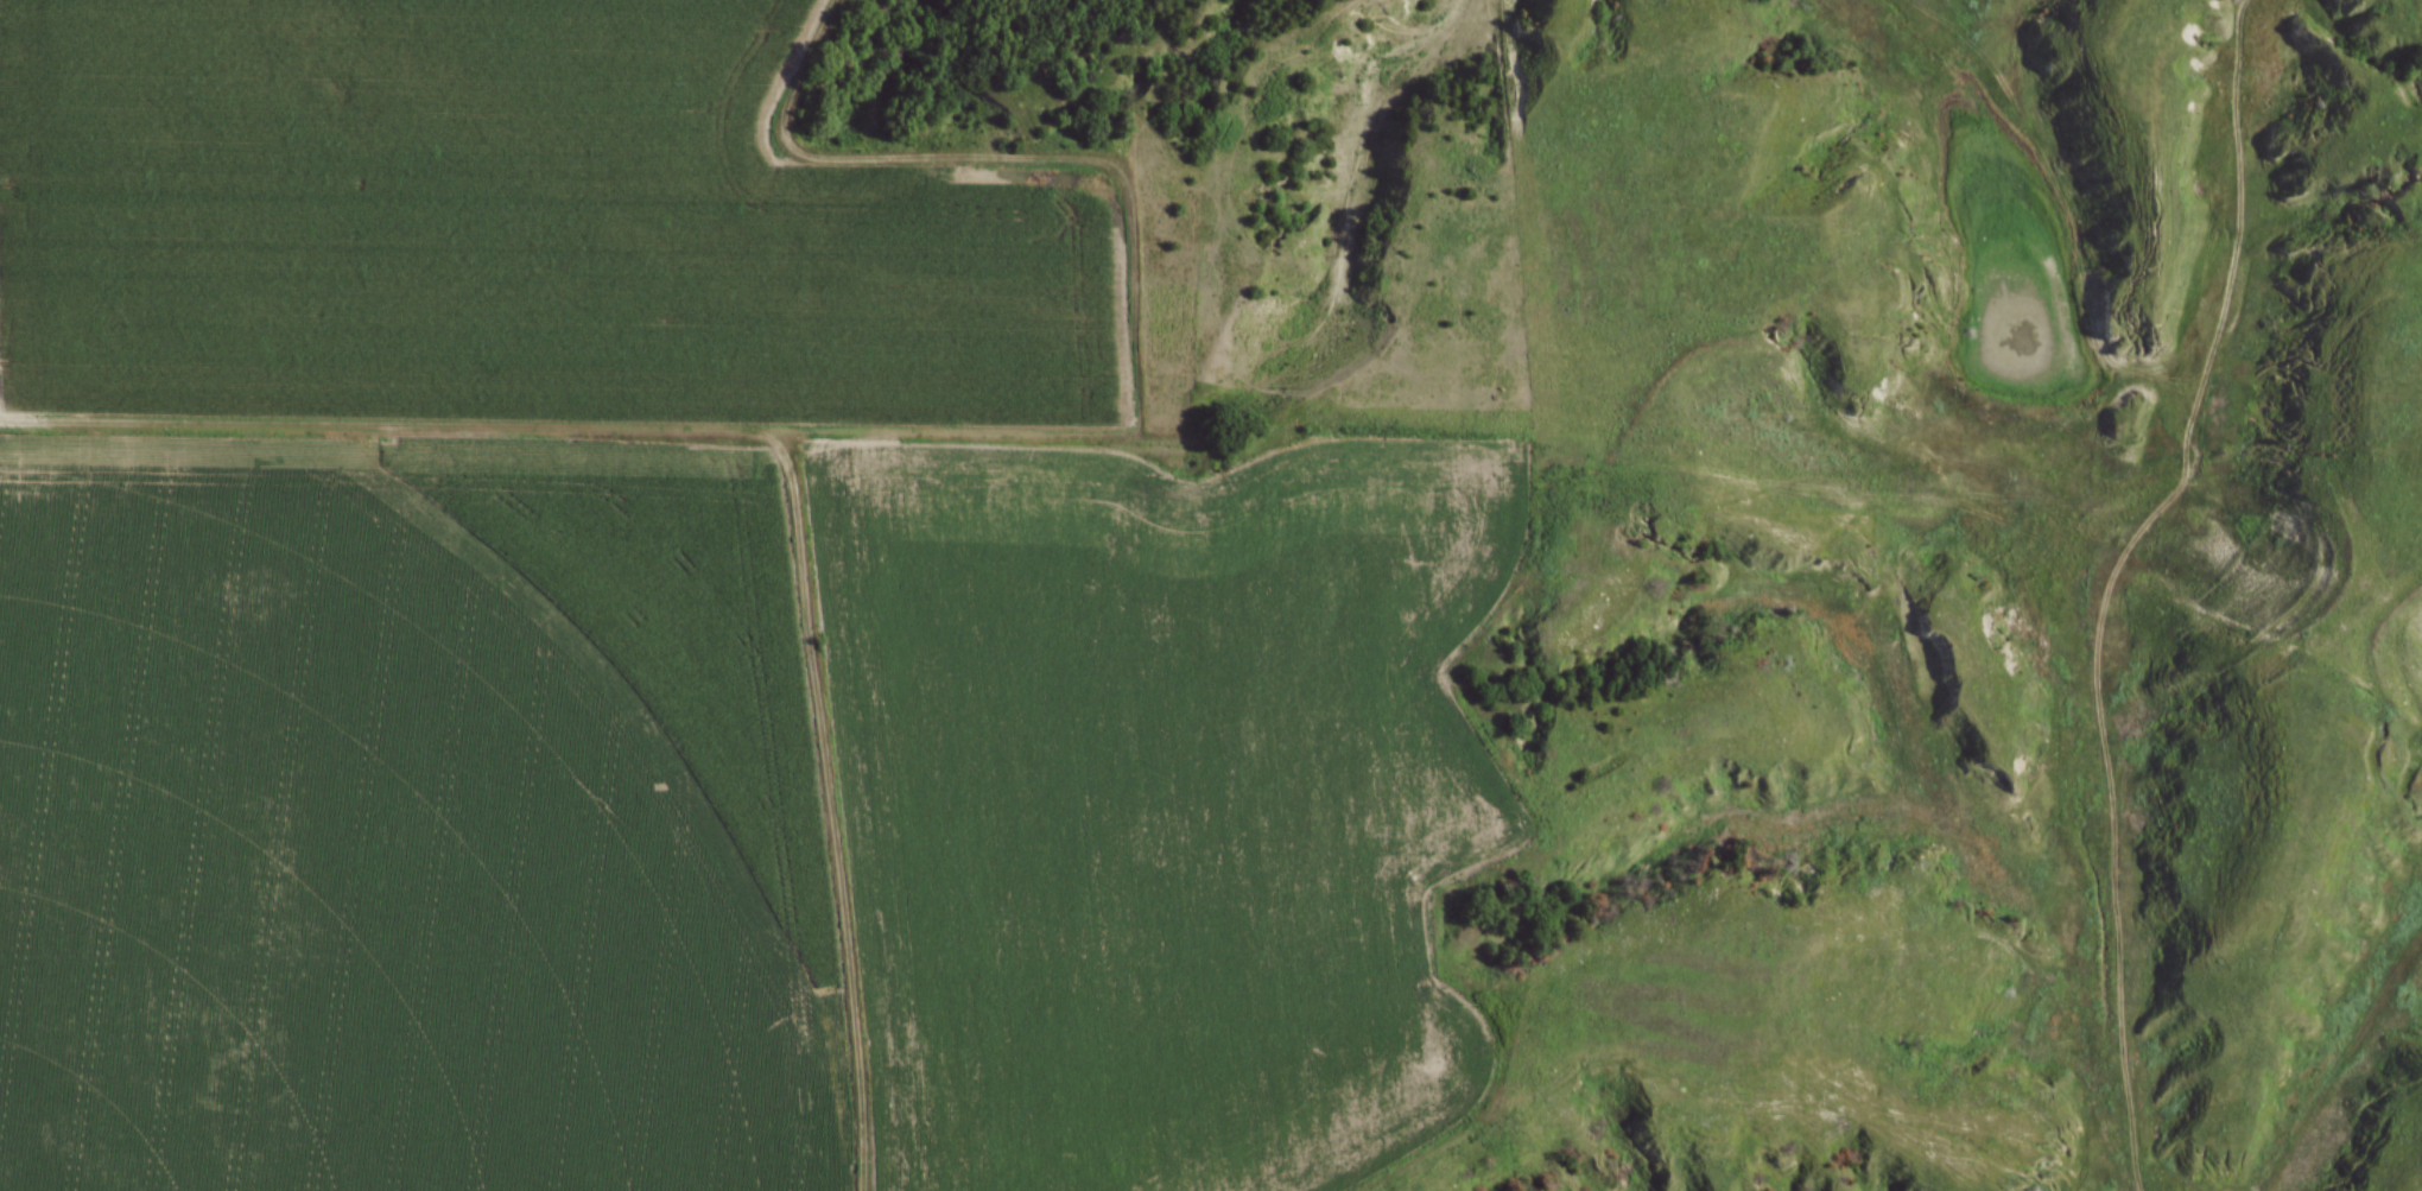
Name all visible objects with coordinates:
crop: (508, 227)
crop: (344, 866)

